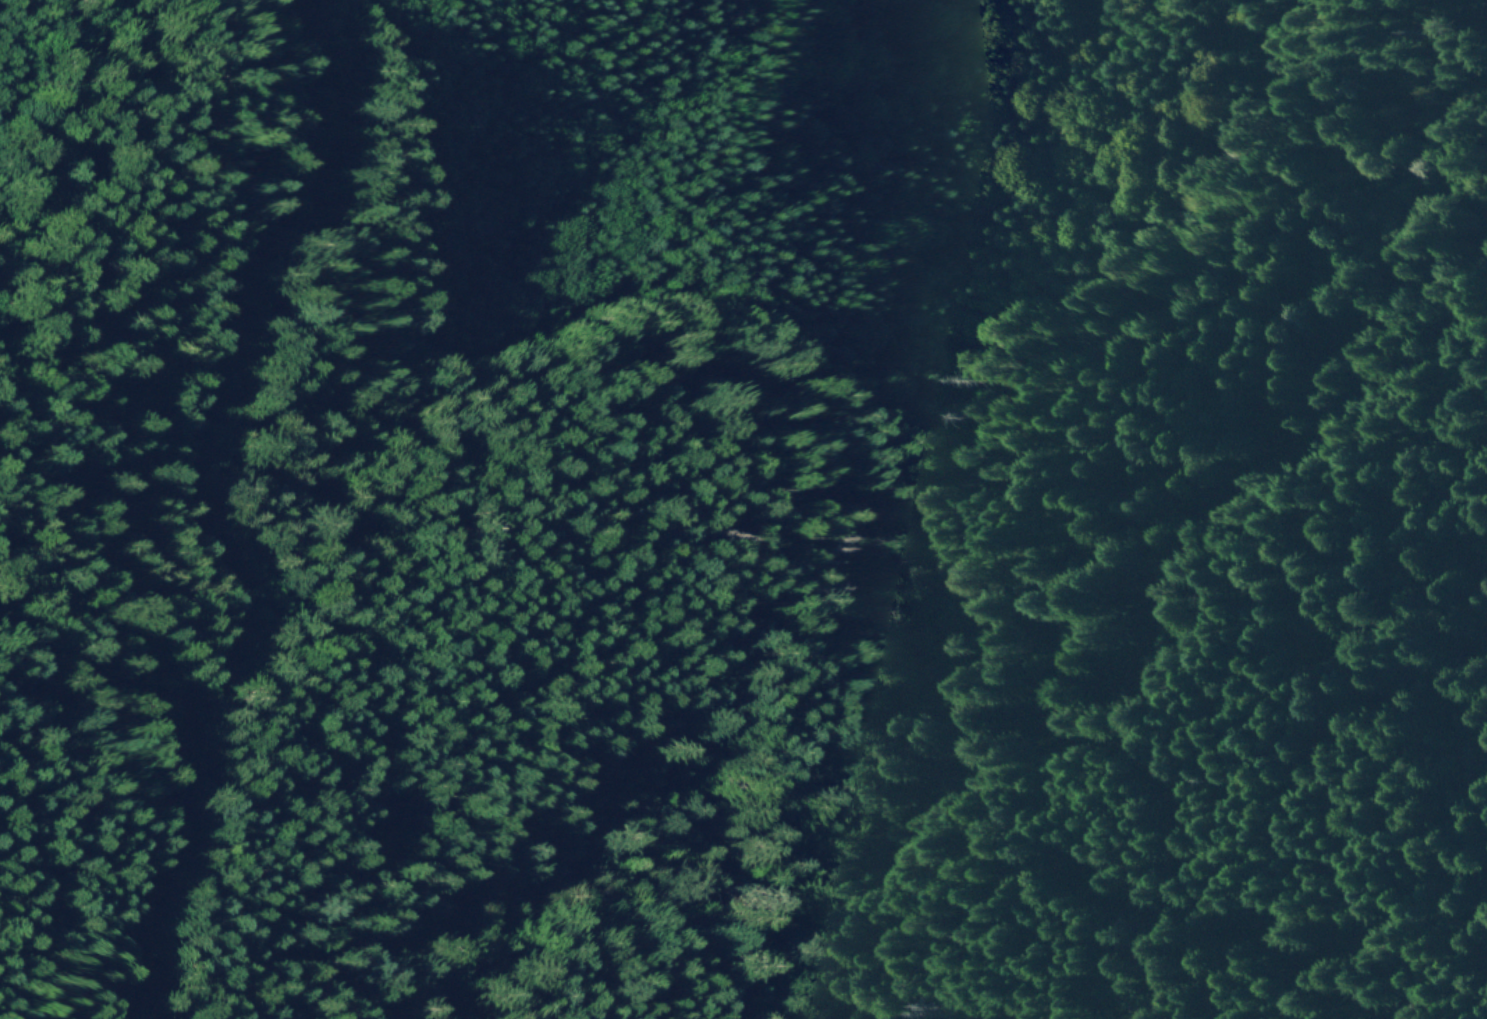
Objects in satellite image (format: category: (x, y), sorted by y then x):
road: (201, 517)

